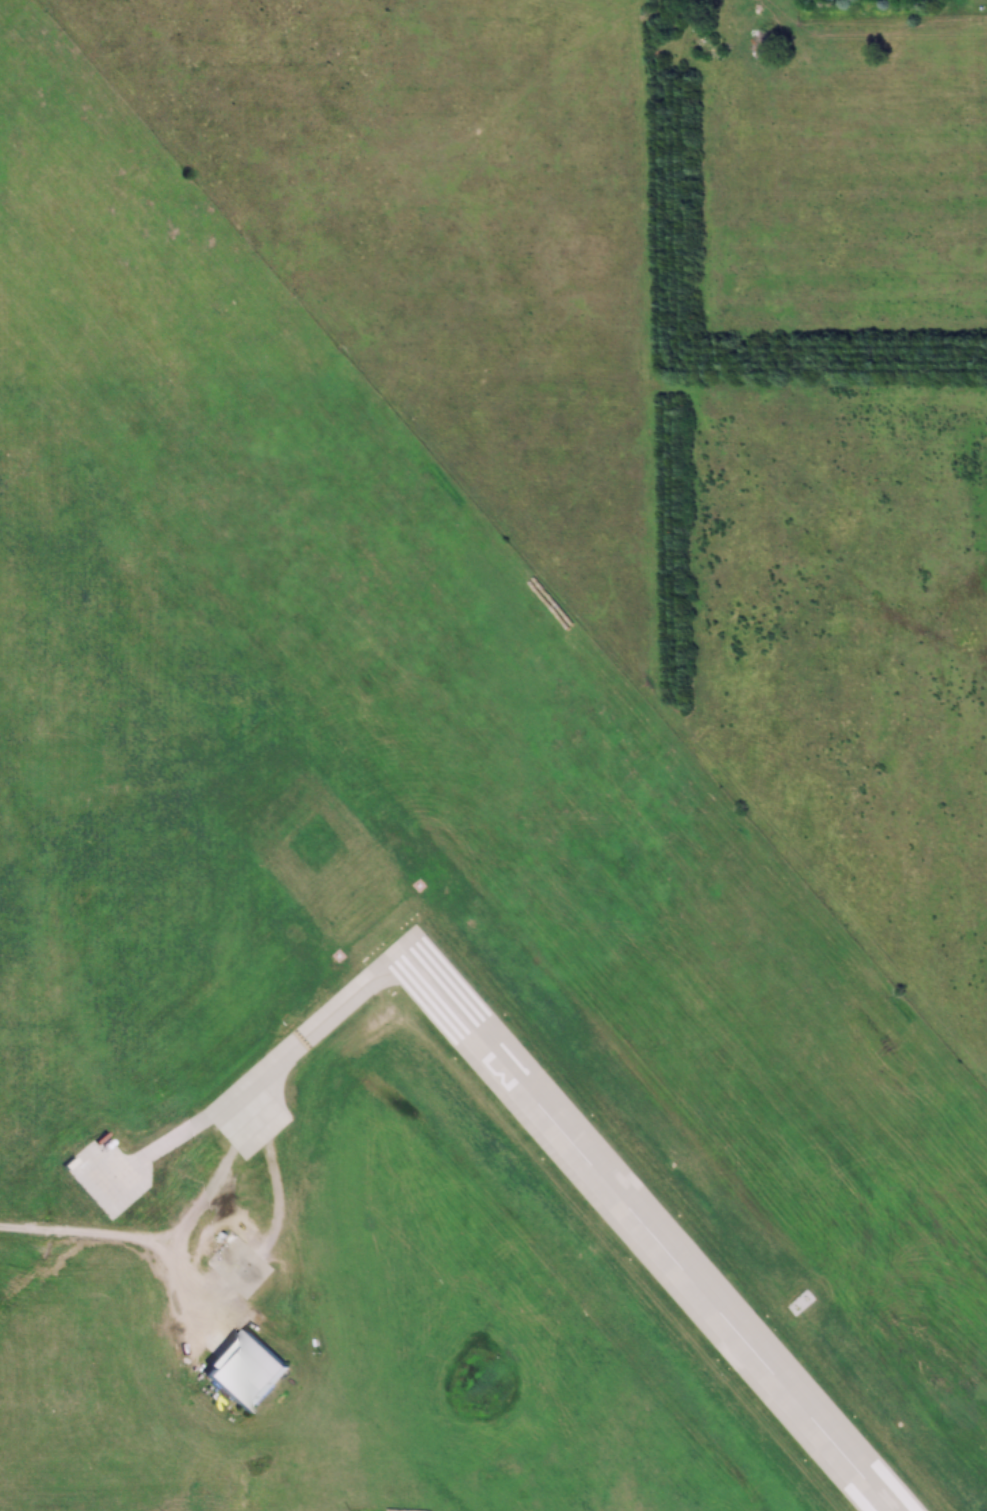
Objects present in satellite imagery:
airport: (398, 963)
airport taxiway: (338, 1010)
airport apron: (250, 1115)
airport runway: (646, 1225)
road: (137, 1246)
building: (245, 1371)

